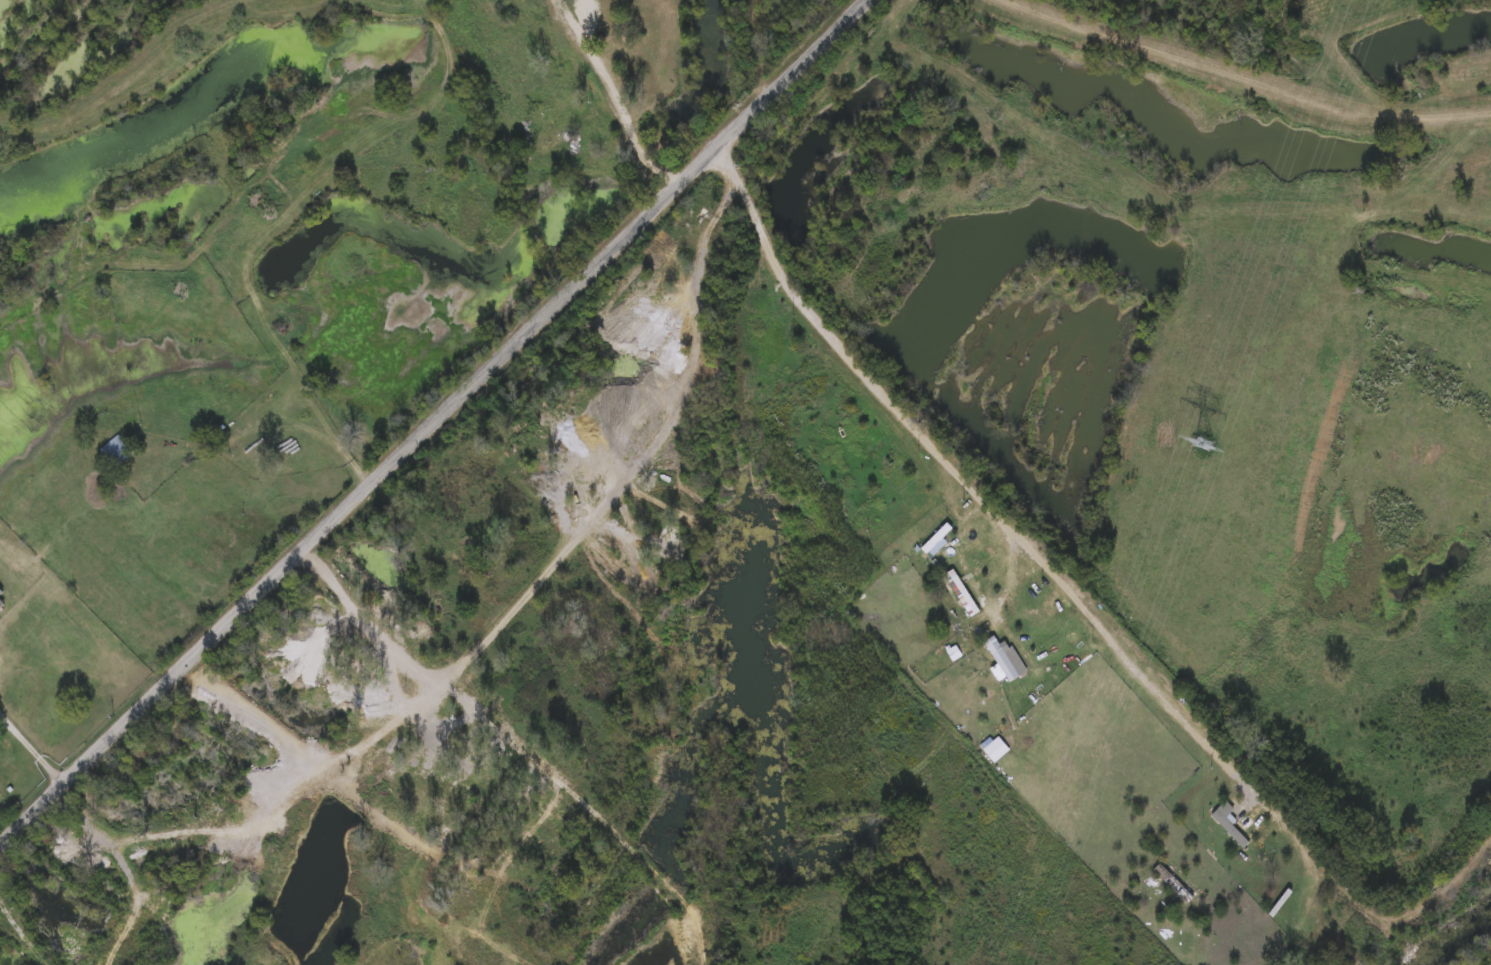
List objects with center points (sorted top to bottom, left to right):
road: (1260, 72)
road: (620, 115)
building: (633, 126)
building: (553, 139)
road: (434, 424)
power tower: (1202, 442)
building: (119, 448)
road: (1047, 556)
road: (537, 593)
road: (988, 612)
road: (36, 739)
road: (937, 777)
road: (1363, 907)

